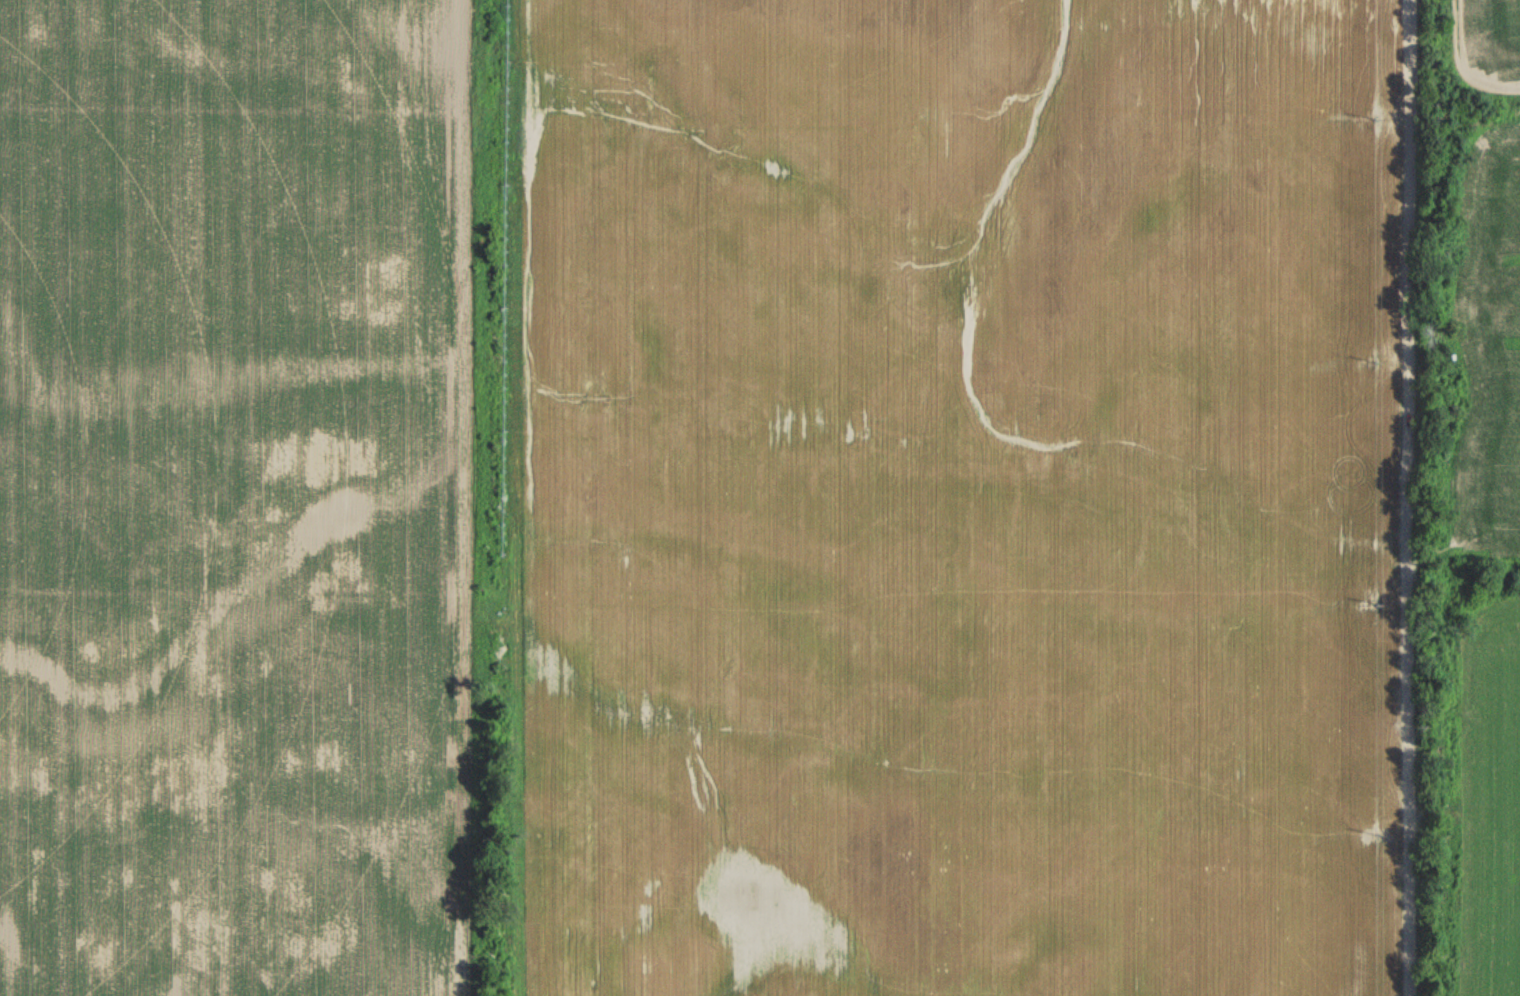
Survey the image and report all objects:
road: (1416, 498)

